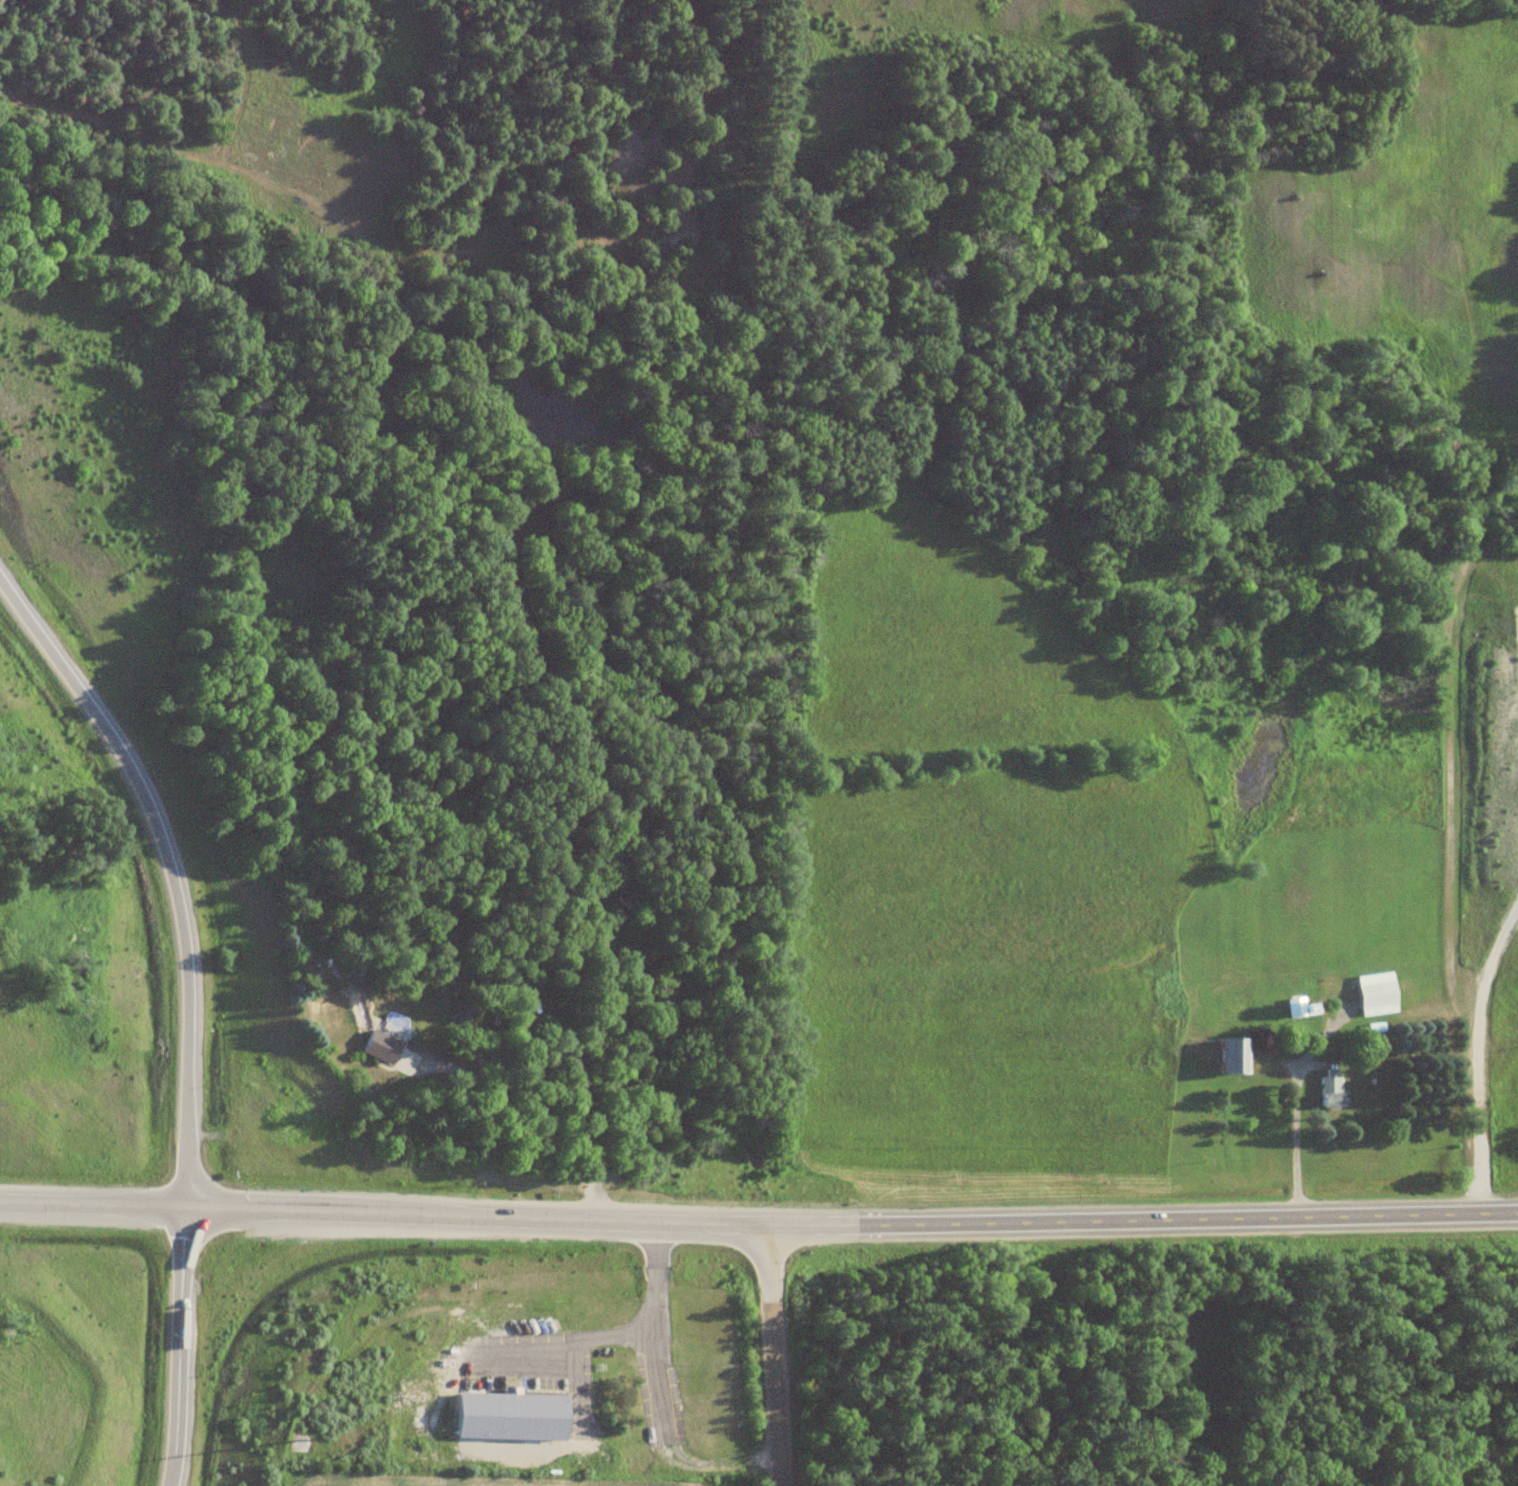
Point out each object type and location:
road: (167, 870)
building: (1376, 995)
building: (1295, 1007)
building: (379, 1047)
road: (1473, 1050)
building: (1234, 1056)
building: (1331, 1093)
road: (93, 1204)
road: (851, 1229)
road: (606, 1334)
road: (179, 1346)
road: (772, 1356)
building: (519, 1417)
road: (665, 1442)

